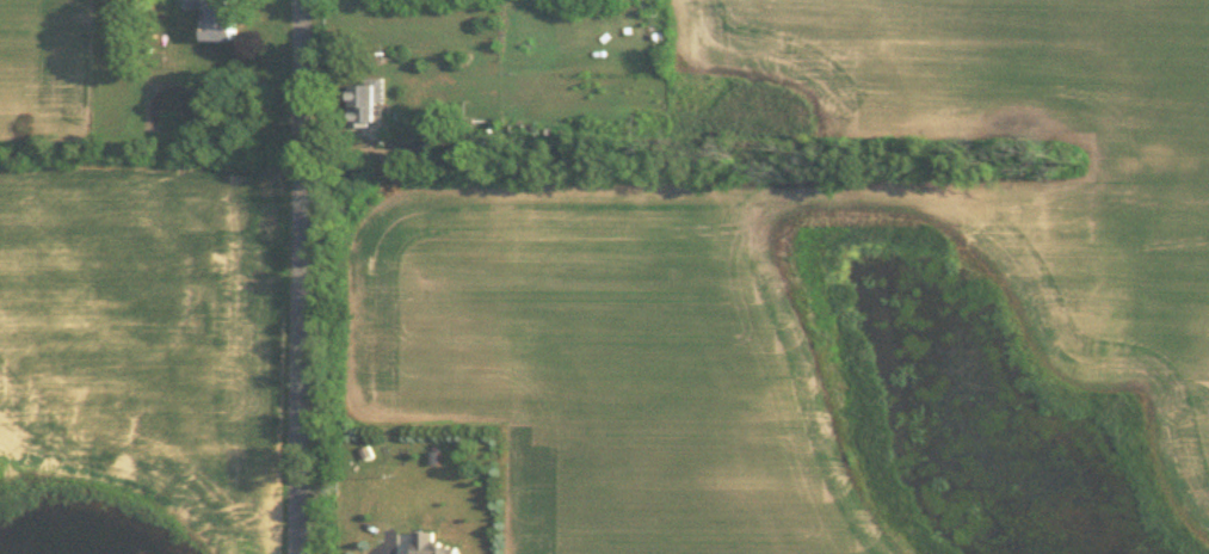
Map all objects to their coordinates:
building: (193, 2)
building: (222, 19)
crop: (44, 64)
building: (366, 97)
crop: (1036, 153)
road: (298, 277)
building: (433, 543)
road: (390, 547)

